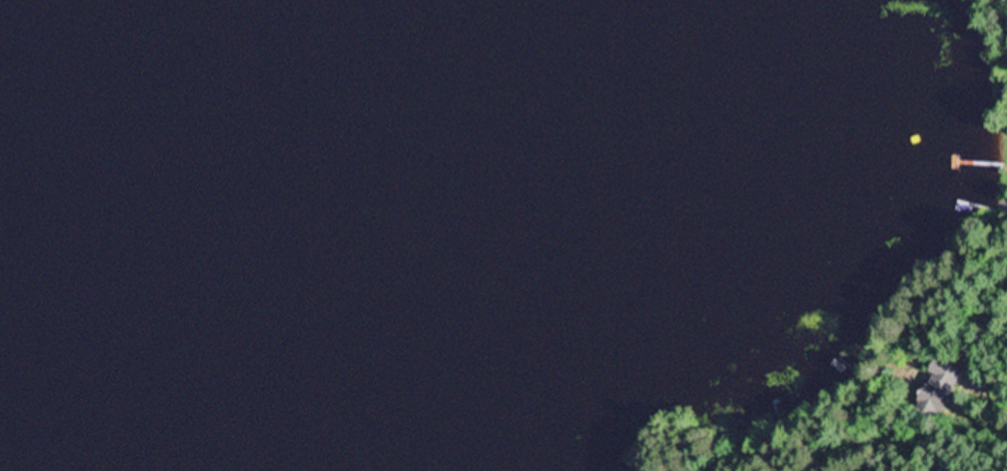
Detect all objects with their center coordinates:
road: (943, 349)
building: (937, 390)

